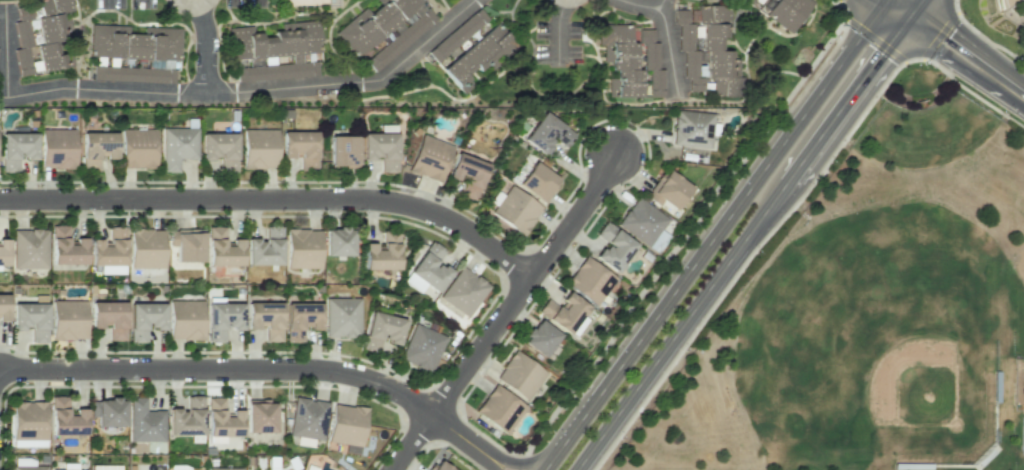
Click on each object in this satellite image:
building: (750, 0)
road: (917, 3)
road: (923, 3)
road: (865, 4)
road: (873, 4)
road: (191, 5)
road: (659, 5)
traffic signals: (921, 6)
traffic signals: (871, 9)
building: (789, 10)
road: (911, 18)
road: (886, 20)
traffic signals: (902, 31)
road: (558, 32)
building: (40, 33)
road: (666, 34)
road: (940, 37)
road: (982, 38)
road: (952, 39)
building: (134, 43)
road: (205, 48)
road: (5, 50)
building: (707, 50)
building: (276, 51)
road: (943, 52)
building: (478, 57)
building: (631, 61)
building: (135, 73)
road: (353, 81)
road: (1004, 86)
road: (102, 88)
road: (845, 107)
building: (692, 127)
building: (546, 130)
building: (178, 143)
building: (96, 145)
building: (301, 145)
building: (16, 146)
building: (220, 146)
building: (57, 147)
building: (137, 147)
building: (260, 147)
building: (382, 147)
building: (344, 149)
building: (429, 156)
building: (466, 171)
building: (537, 179)
street lamp: (37, 183)
street lamp: (624, 184)
building: (668, 188)
road: (276, 198)
building: (515, 208)
road: (789, 209)
street lamp: (127, 213)
street lamp: (361, 213)
street lamp: (472, 216)
building: (643, 220)
road: (706, 239)
building: (340, 240)
building: (187, 242)
building: (613, 245)
building: (66, 246)
building: (147, 246)
building: (266, 246)
building: (304, 246)
building: (29, 247)
building: (109, 247)
building: (223, 247)
building: (3, 250)
building: (384, 251)
building: (431, 266)
street lamp: (550, 274)
building: (590, 278)
building: (464, 290)
building: (3, 305)
building: (563, 310)
road: (504, 312)
building: (109, 316)
building: (342, 316)
building: (30, 317)
building: (145, 317)
building: (266, 317)
building: (68, 318)
building: (223, 318)
building: (302, 318)
building: (186, 319)
road: (682, 327)
building: (382, 329)
street lamp: (469, 336)
building: (540, 336)
park: (871, 336)
building: (422, 346)
street lamp: (50, 353)
street lamp: (278, 353)
road: (269, 368)
building: (519, 374)
street lamp: (165, 383)
street lamp: (386, 402)
building: (499, 407)
street lamp: (0, 409)
building: (108, 410)
building: (261, 416)
building: (66, 417)
building: (187, 417)
building: (308, 417)
building: (223, 418)
building: (28, 419)
building: (144, 421)
street lamp: (468, 421)
building: (346, 424)
building: (442, 466)
building: (28, 467)
building: (105, 467)
building: (178, 467)
building: (308, 467)
building: (226, 468)
building: (68, 469)

